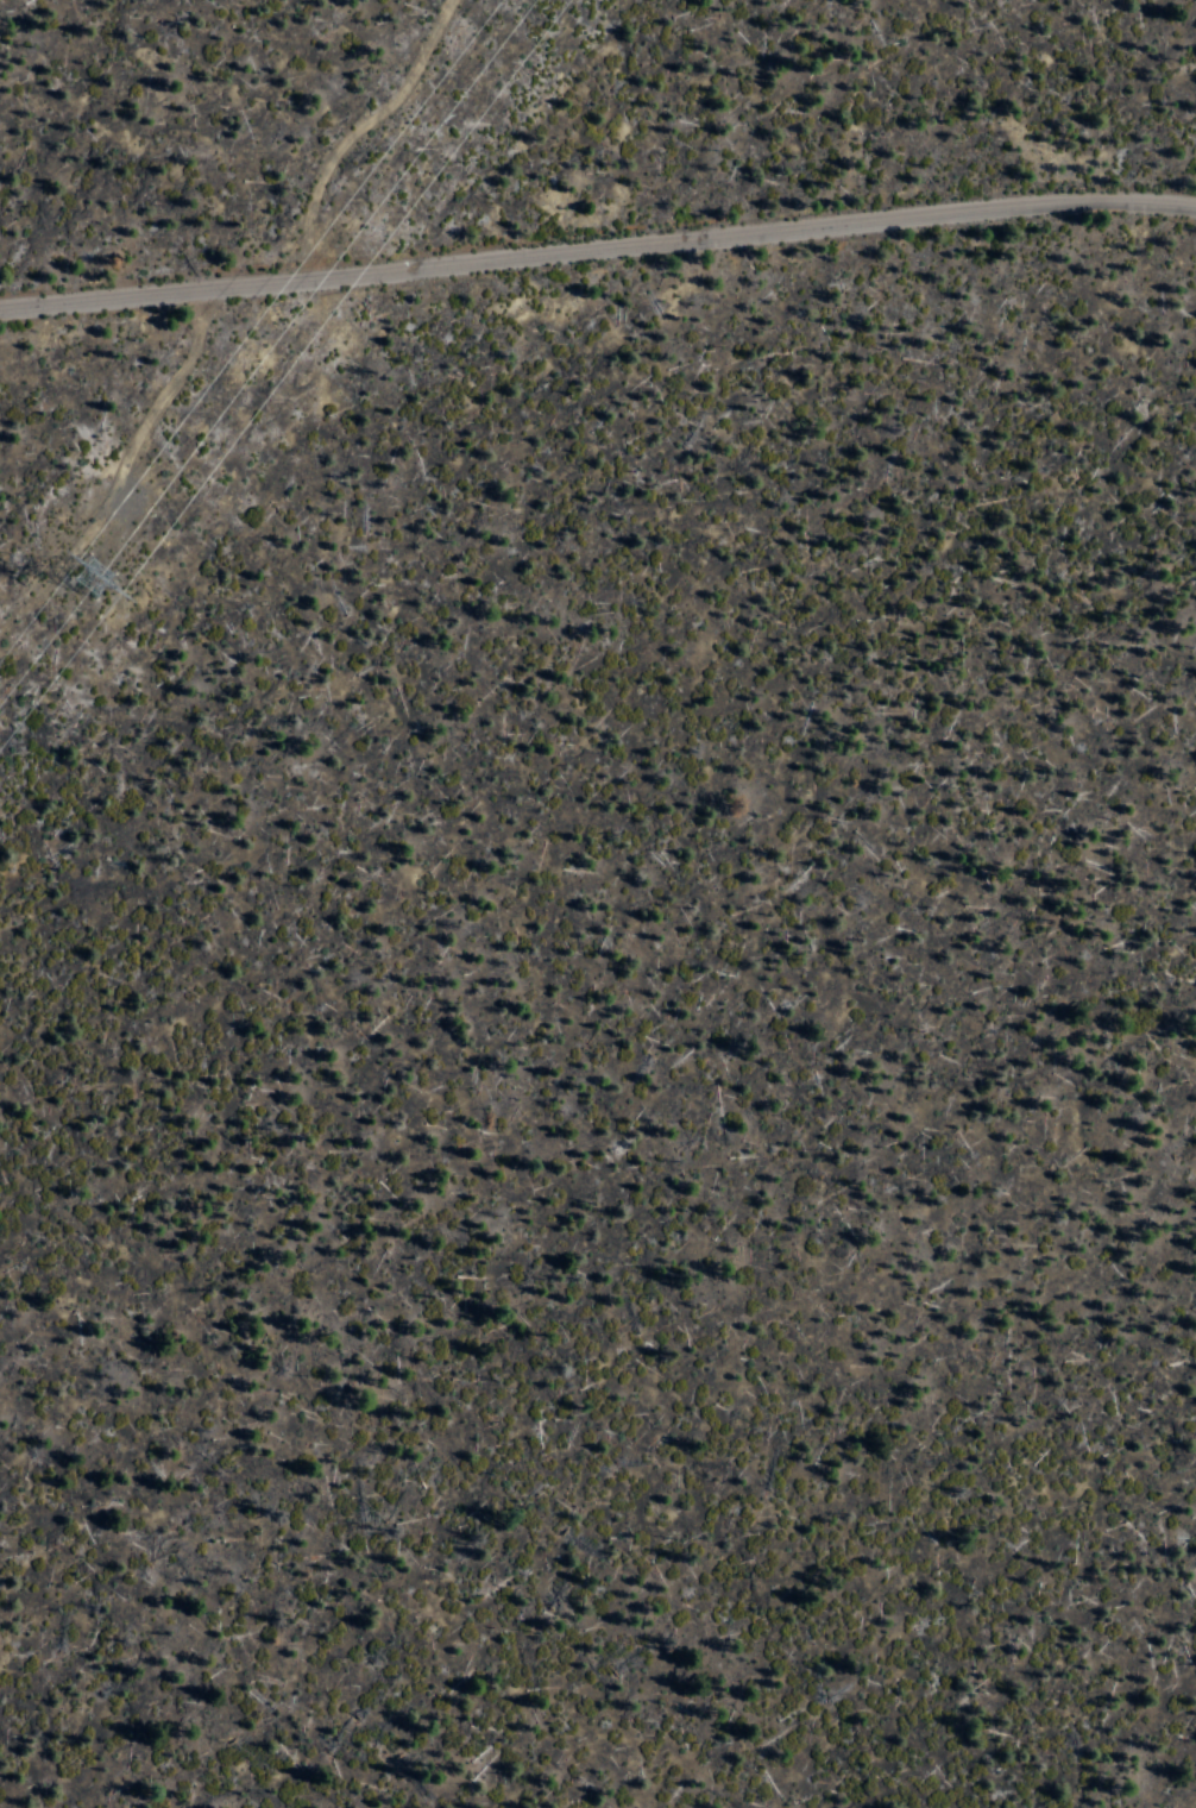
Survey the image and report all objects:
road: (597, 258)
power tower: (100, 565)

